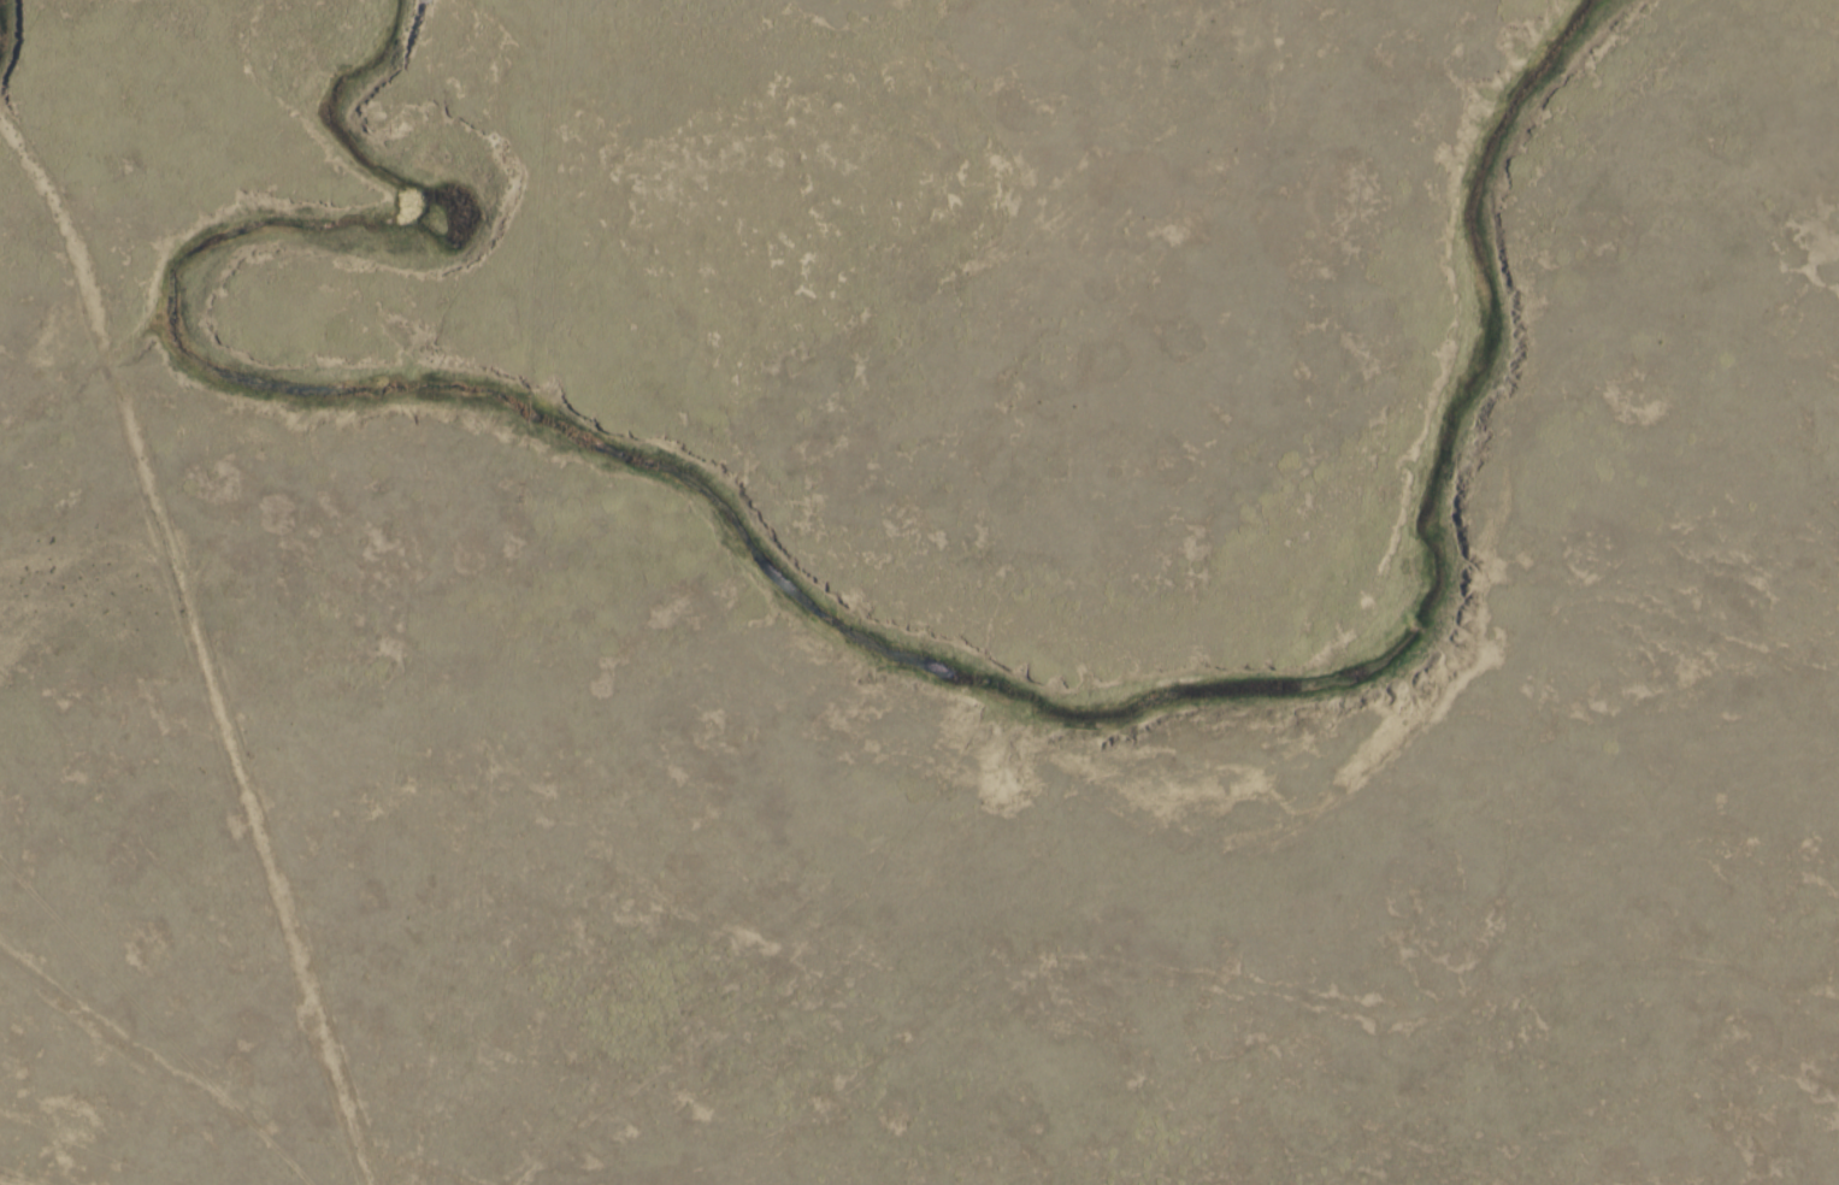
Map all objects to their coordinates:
road: (58, 1162)

